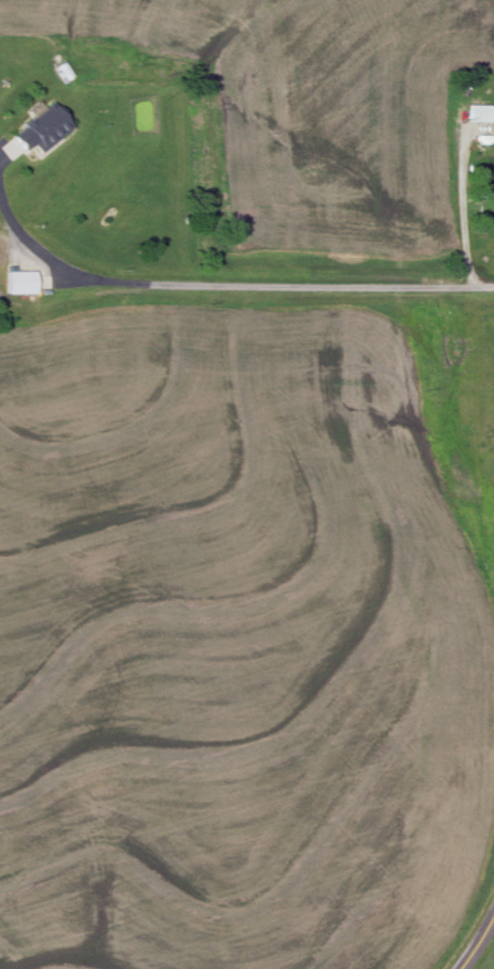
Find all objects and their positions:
building: (476, 109)
crop: (309, 111)
building: (38, 128)
building: (493, 222)
building: (15, 283)
road: (232, 285)
crop: (234, 648)
road: (479, 946)

